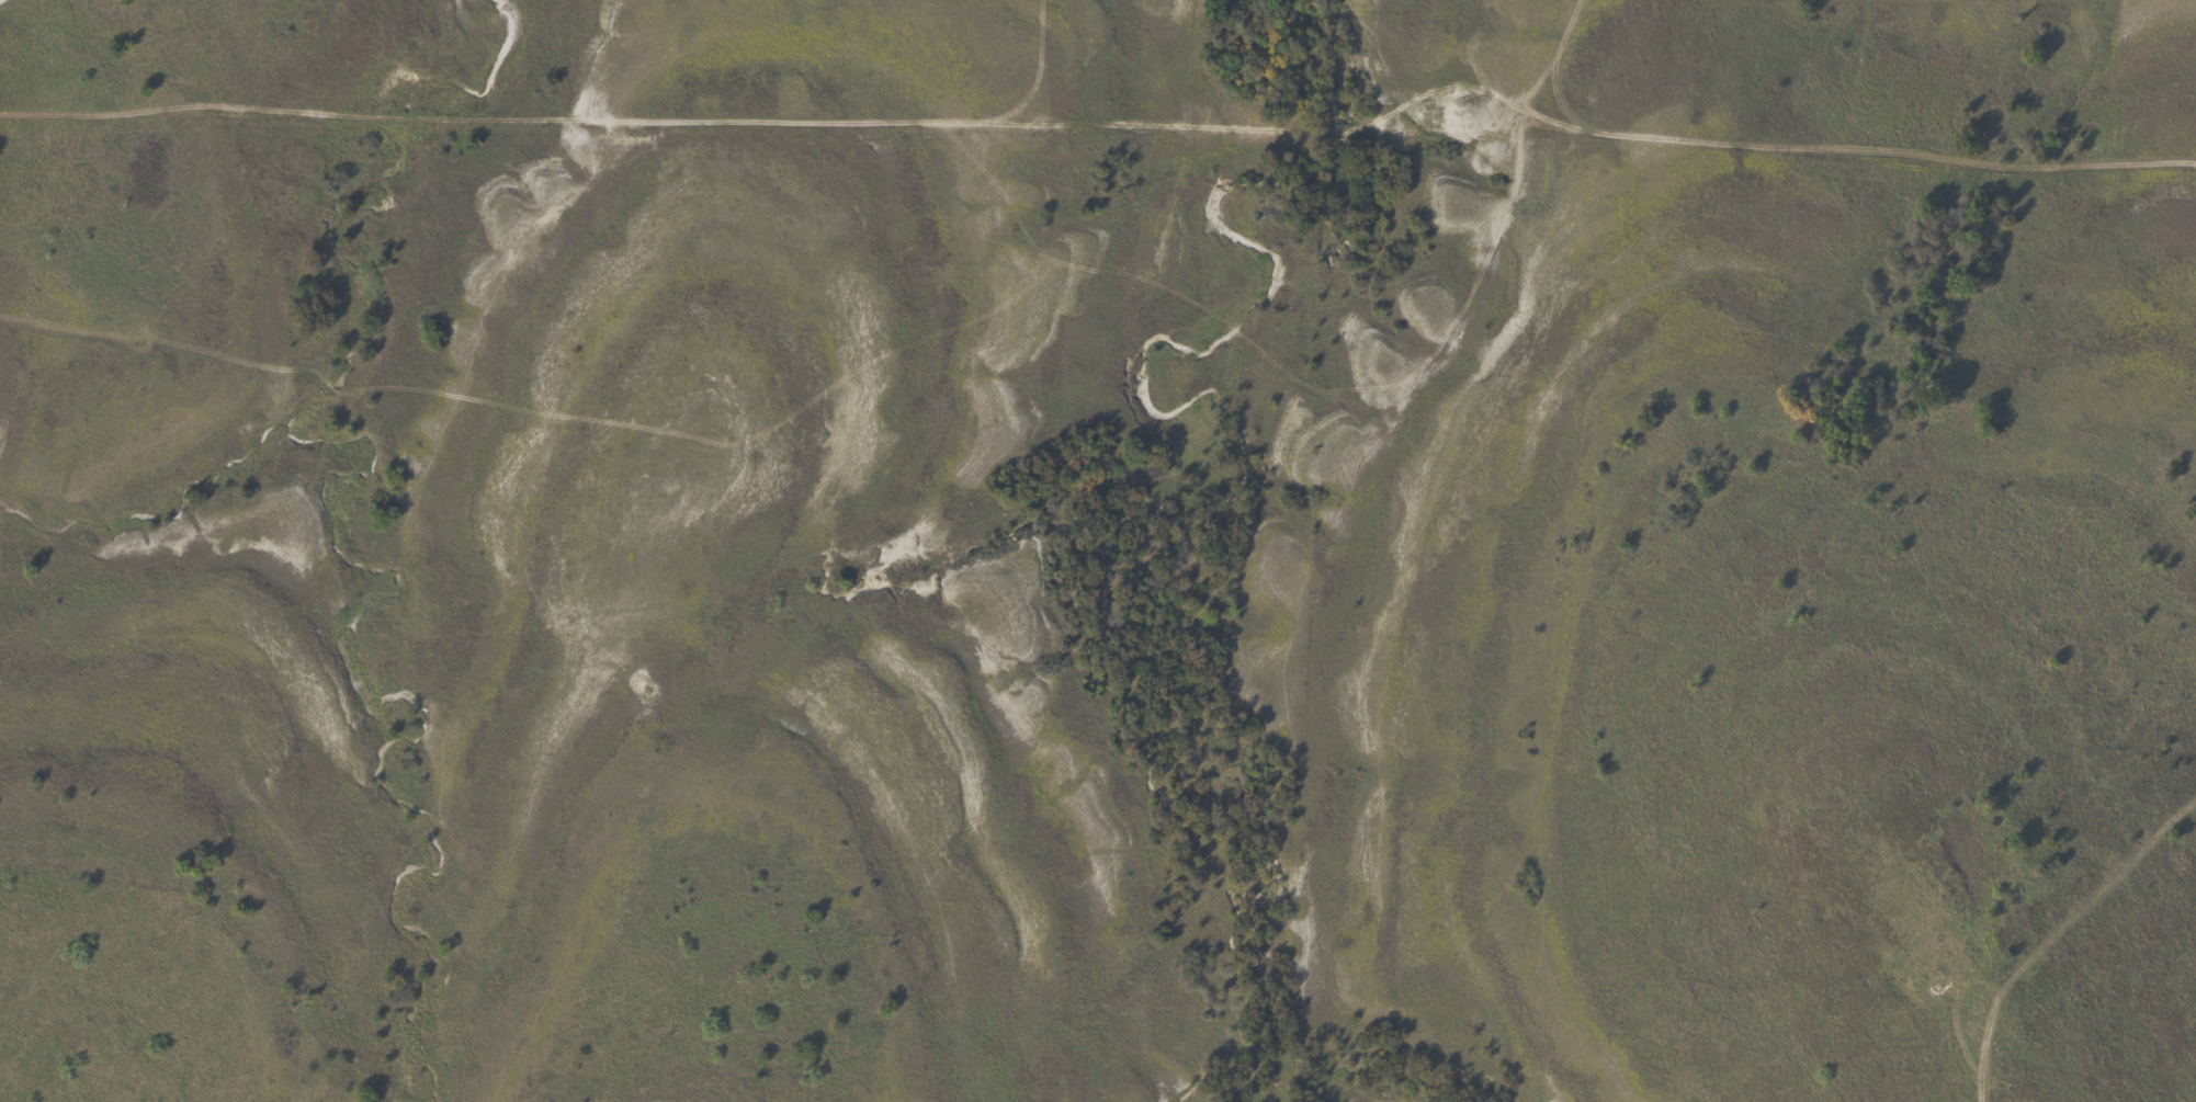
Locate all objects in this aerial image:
road: (1969, 1053)

